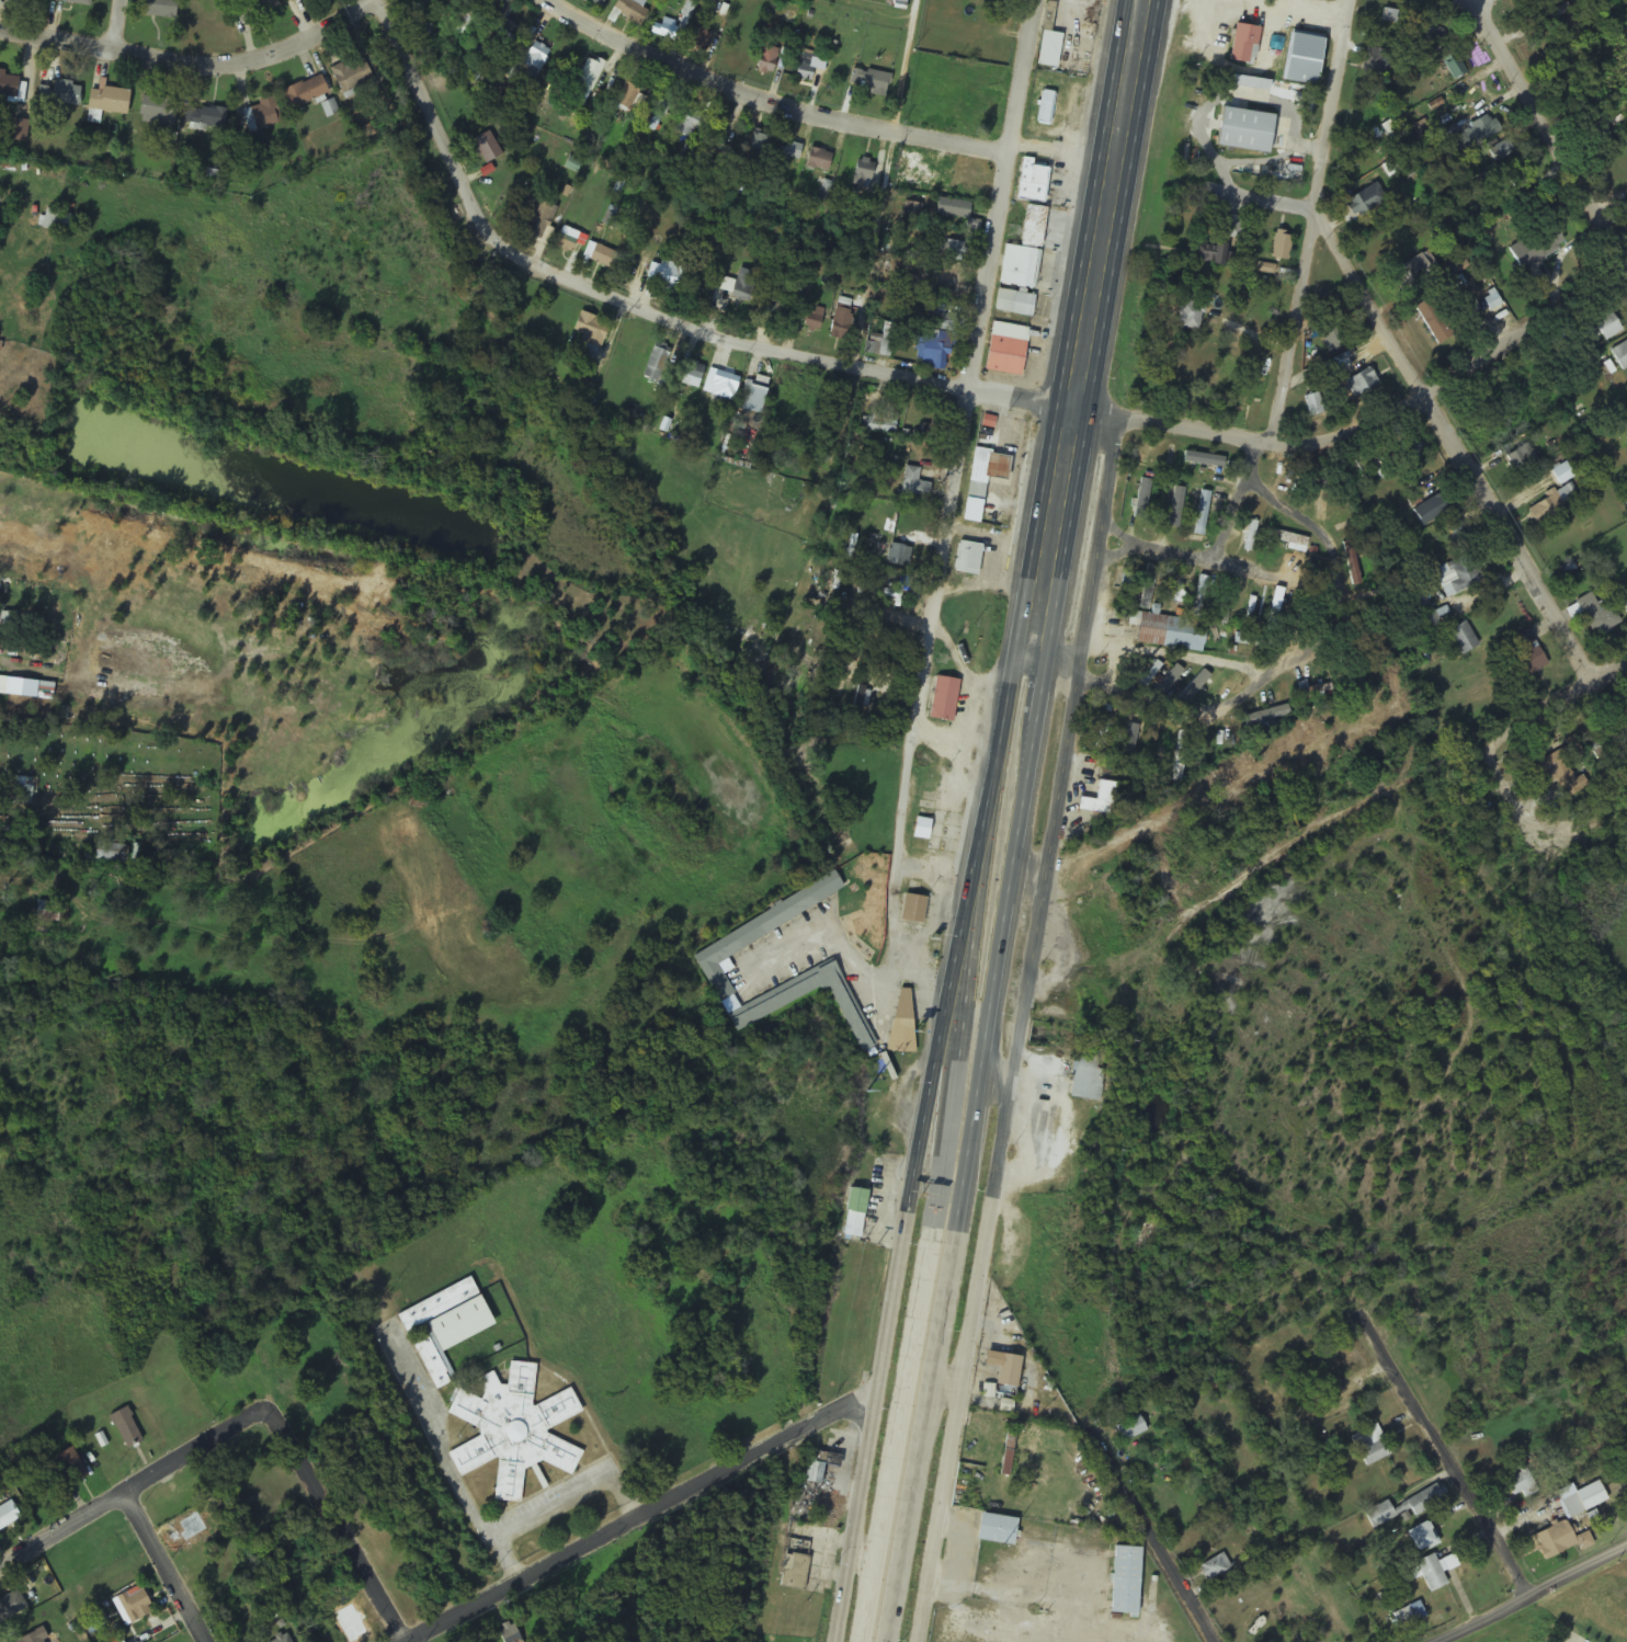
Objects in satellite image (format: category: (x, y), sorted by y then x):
building: (289, 0)
building: (601, 1)
building: (73, 2)
building: (1398, 3)
road: (1474, 3)
building: (263, 5)
building: (160, 9)
building: (632, 11)
road: (117, 25)
building: (663, 30)
building: (504, 35)
building: (1423, 35)
building: (1242, 45)
building: (1048, 49)
building: (535, 57)
building: (1300, 59)
building: (766, 60)
road: (190, 64)
building: (1375, 64)
building: (806, 66)
building: (1453, 69)
building: (471, 75)
building: (589, 75)
building: (350, 78)
building: (868, 82)
building: (10, 88)
building: (65, 93)
building: (305, 93)
building: (626, 96)
road: (772, 103)
building: (1044, 107)
building: (157, 111)
building: (660, 112)
building: (261, 115)
building: (205, 117)
building: (690, 124)
road: (1549, 128)
building: (19, 130)
building: (1470, 136)
building: (760, 146)
building: (486, 148)
building: (787, 150)
building: (818, 160)
building: (863, 173)
building: (1032, 175)
building: (952, 181)
building: (1363, 201)
building: (951, 208)
building: (911, 213)
building: (56, 220)
road: (1312, 220)
building: (539, 224)
building: (1229, 227)
power tower: (1013, 232)
building: (1550, 241)
building: (741, 242)
building: (1278, 246)
building: (953, 250)
building: (1023, 252)
building: (1206, 254)
building: (1262, 270)
building: (1410, 273)
building: (667, 276)
building: (743, 282)
building: (946, 284)
building: (780, 304)
building: (1013, 304)
building: (808, 319)
building: (938, 321)
building: (1432, 321)
building: (842, 323)
building: (1606, 327)
road: (1085, 328)
building: (589, 333)
building: (1331, 335)
building: (880, 343)
building: (931, 351)
building: (1004, 356)
building: (1619, 356)
building: (656, 363)
building: (690, 374)
building: (1330, 376)
road: (941, 381)
building: (1361, 383)
building: (720, 385)
building: (753, 395)
building: (1312, 404)
building: (879, 423)
road: (1453, 447)
building: (1409, 451)
building: (1562, 474)
building: (981, 481)
building: (913, 487)
building: (1175, 500)
building: (1437, 506)
building: (1545, 509)
building: (1202, 514)
road: (947, 515)
building: (1458, 533)
building: (1250, 536)
building: (1289, 541)
building: (899, 557)
building: (967, 559)
building: (1354, 563)
building: (1463, 574)
building: (1151, 586)
building: (1198, 596)
building: (1624, 602)
building: (1597, 616)
building: (1463, 639)
building: (1260, 642)
building: (1528, 654)
road: (1054, 660)
power tower: (941, 661)
building: (944, 699)
building: (858, 706)
building: (1273, 716)
building: (1127, 737)
road: (999, 765)
building: (1558, 773)
building: (23, 790)
building: (1486, 790)
building: (1100, 800)
road: (1331, 828)
building: (920, 829)
building: (912, 910)
building: (48, 911)
building: (756, 933)
road: (1002, 943)
road: (964, 947)
building: (777, 1001)
building: (900, 1022)
road: (1023, 1030)
building: (1085, 1080)
road: (998, 1081)
power tower: (867, 1093)
building: (853, 1213)
building: (446, 1326)
road: (891, 1329)
building: (1003, 1373)
road: (944, 1401)
building: (126, 1428)
building: (514, 1429)
building: (1129, 1430)
road: (921, 1437)
building: (1370, 1447)
road: (1448, 1460)
building: (72, 1466)
building: (816, 1468)
building: (1522, 1484)
road: (133, 1487)
building: (1583, 1502)
building: (1402, 1508)
power tower: (798, 1513)
building: (9, 1515)
road: (648, 1515)
road: (337, 1525)
building: (995, 1530)
building: (1421, 1538)
road: (1158, 1540)
building: (1560, 1541)
building: (794, 1565)
road: (159, 1569)
building: (1215, 1569)
building: (1431, 1574)
building: (1125, 1581)
road: (1535, 1595)
building: (136, 1604)
building: (11, 1605)
building: (508, 1632)
building: (35, 1637)
building: (283, 1641)

